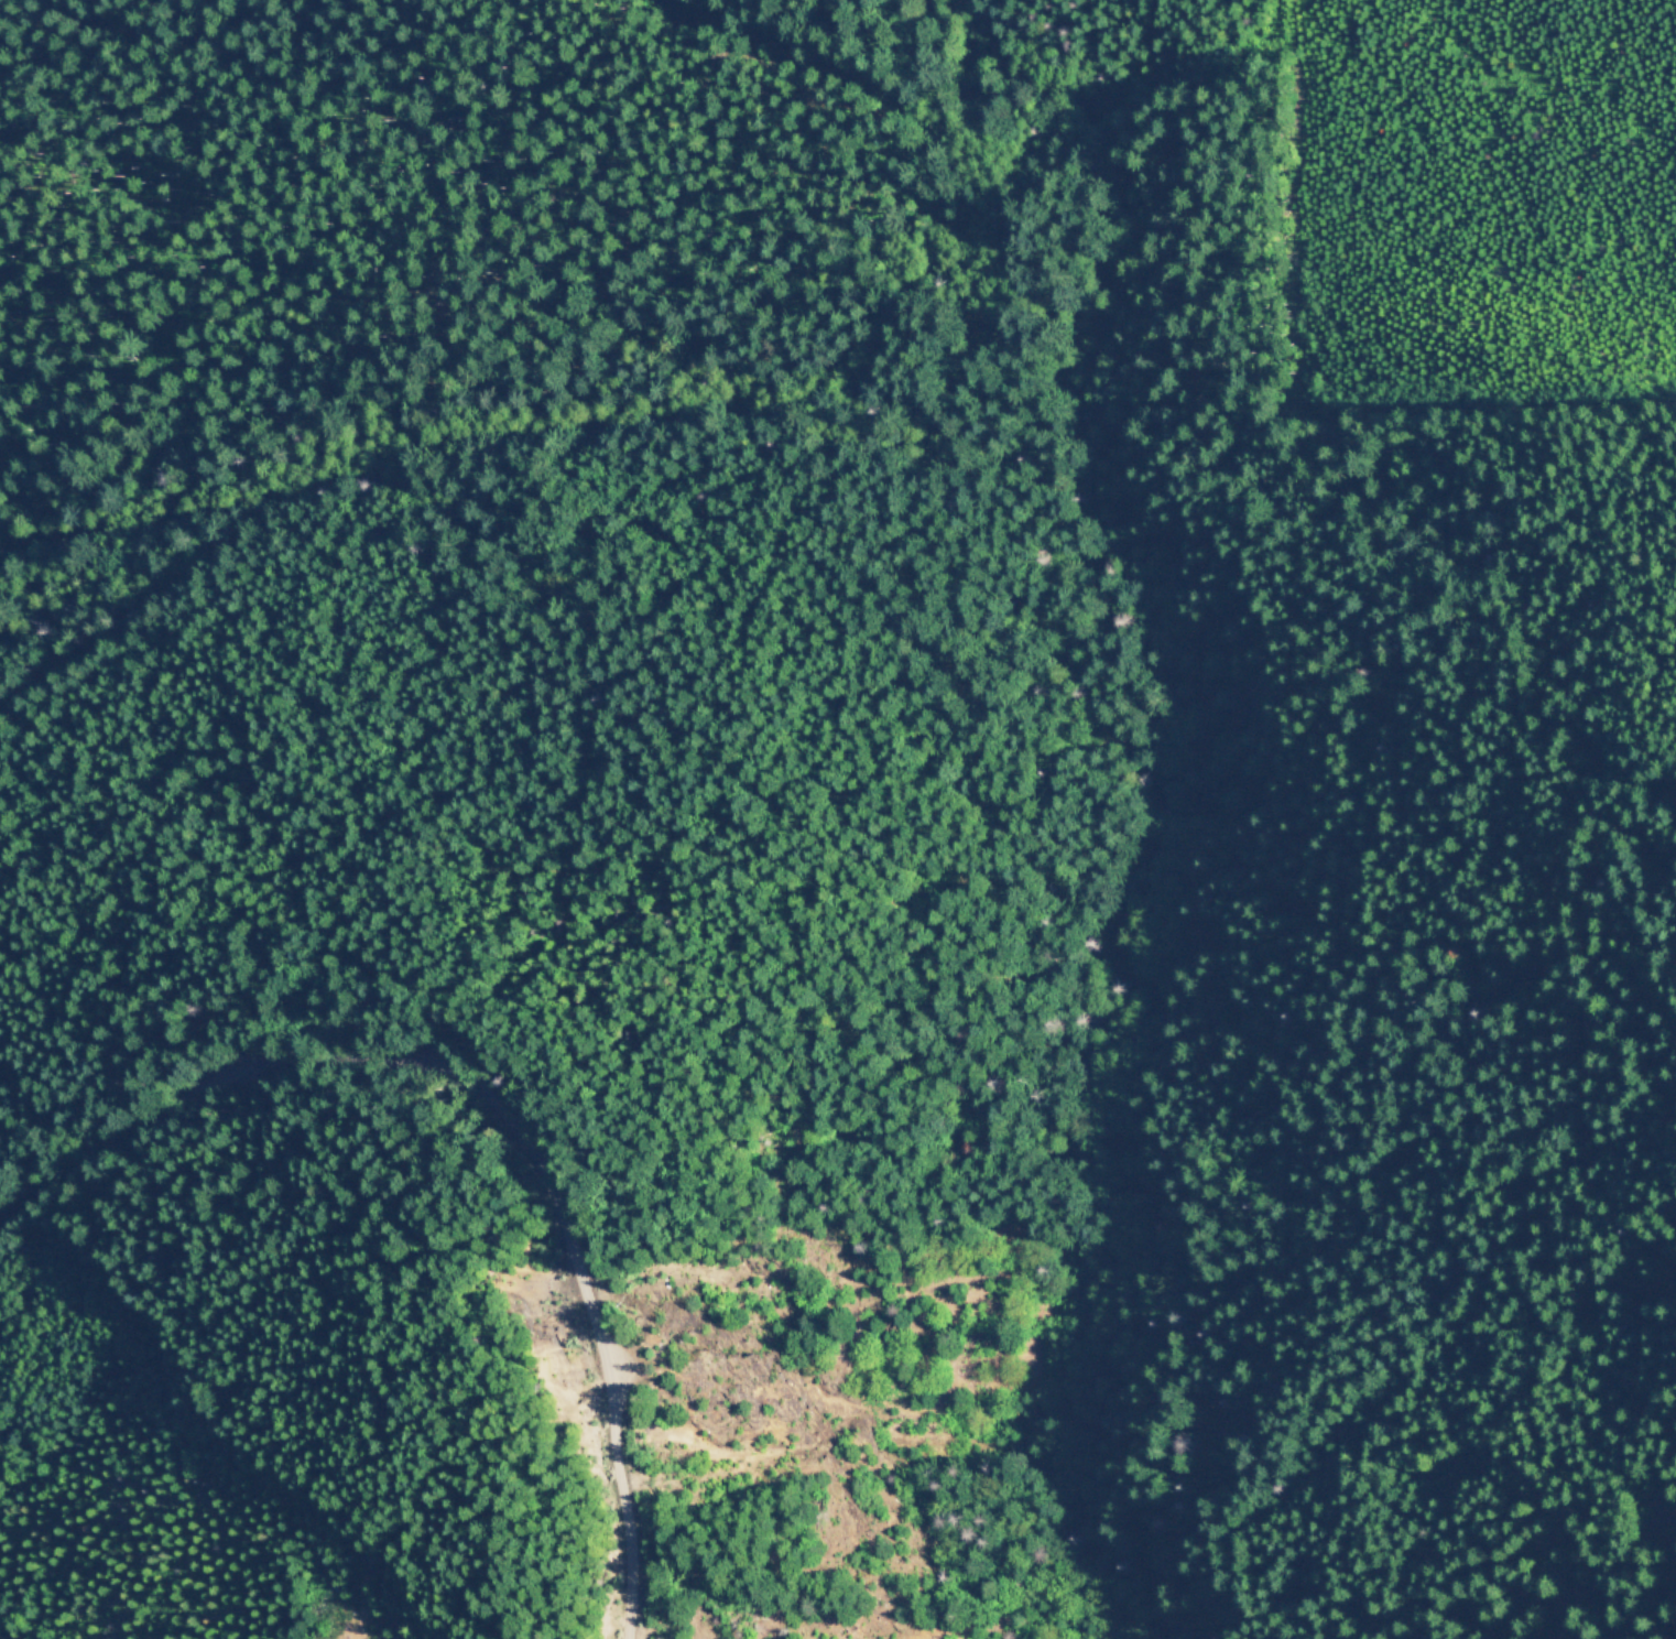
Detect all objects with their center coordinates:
road: (479, 1121)

